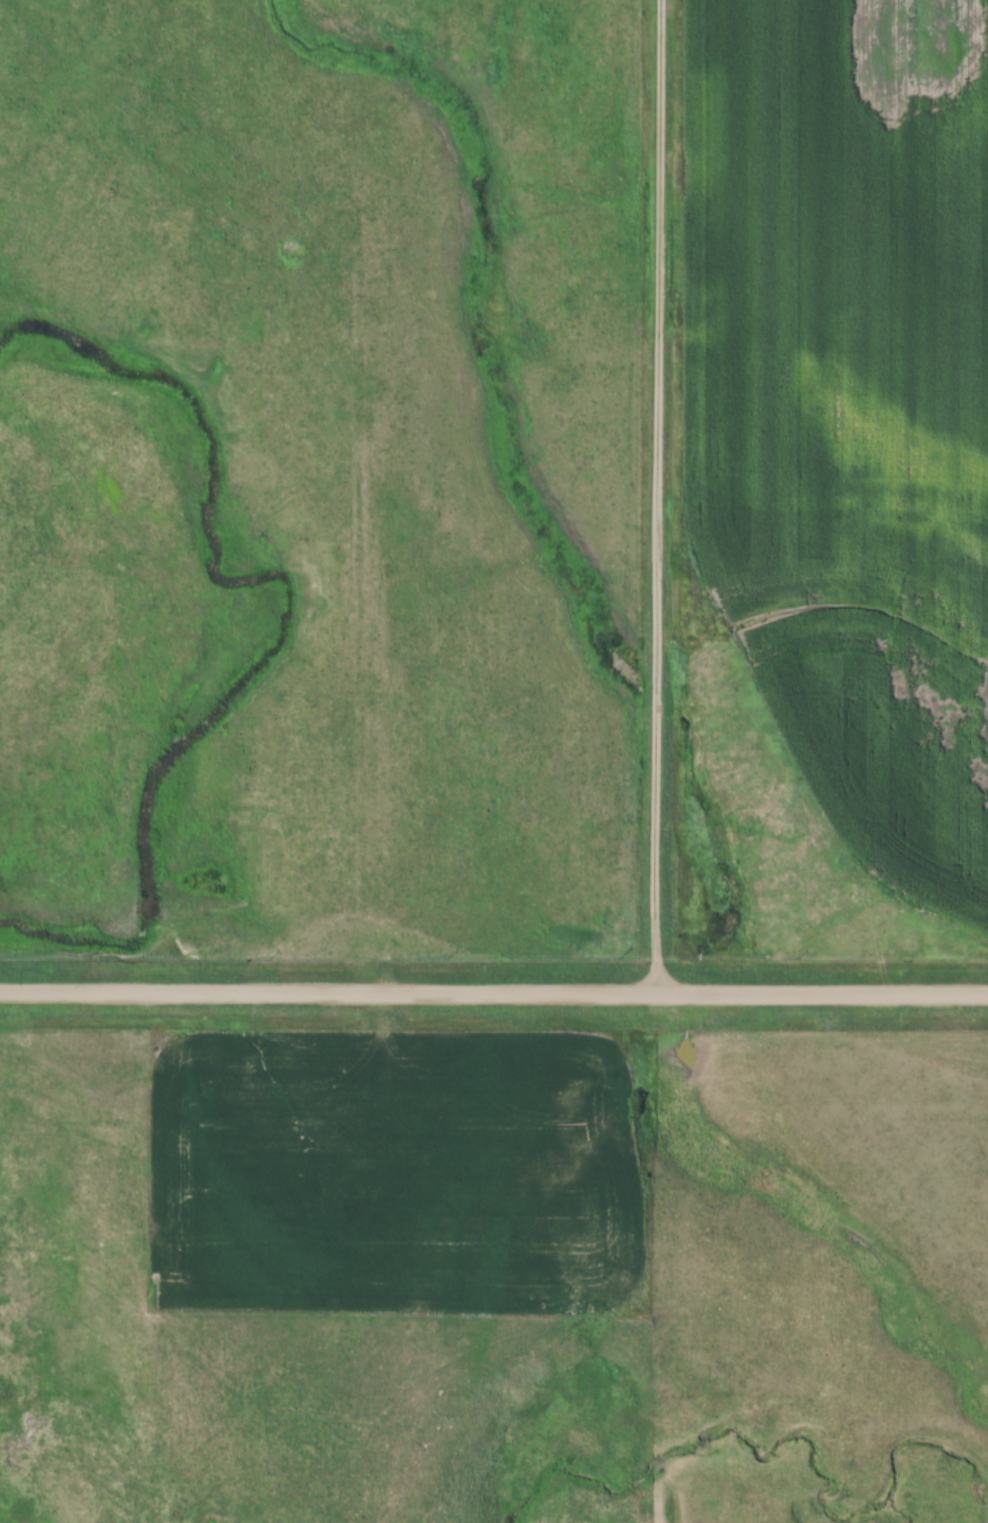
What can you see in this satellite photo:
road: (659, 496)
road: (329, 993)
road: (823, 993)

